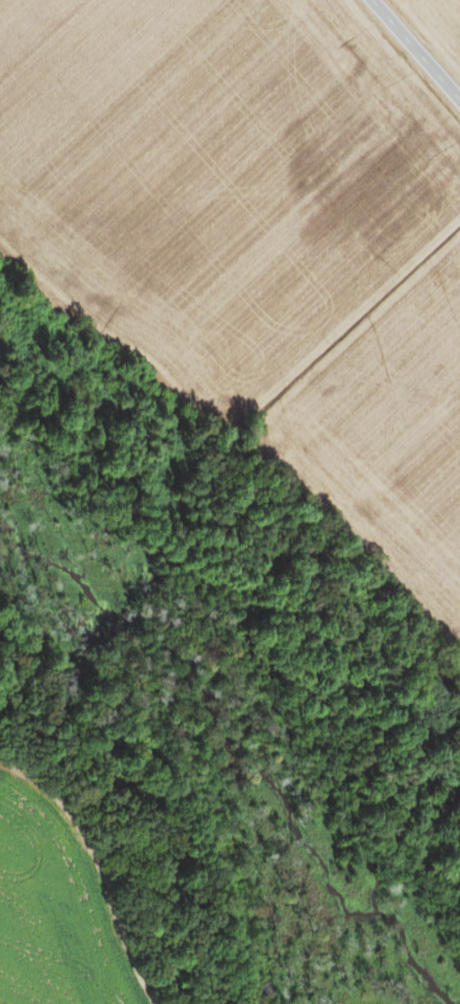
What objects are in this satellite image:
road: (415, 50)

